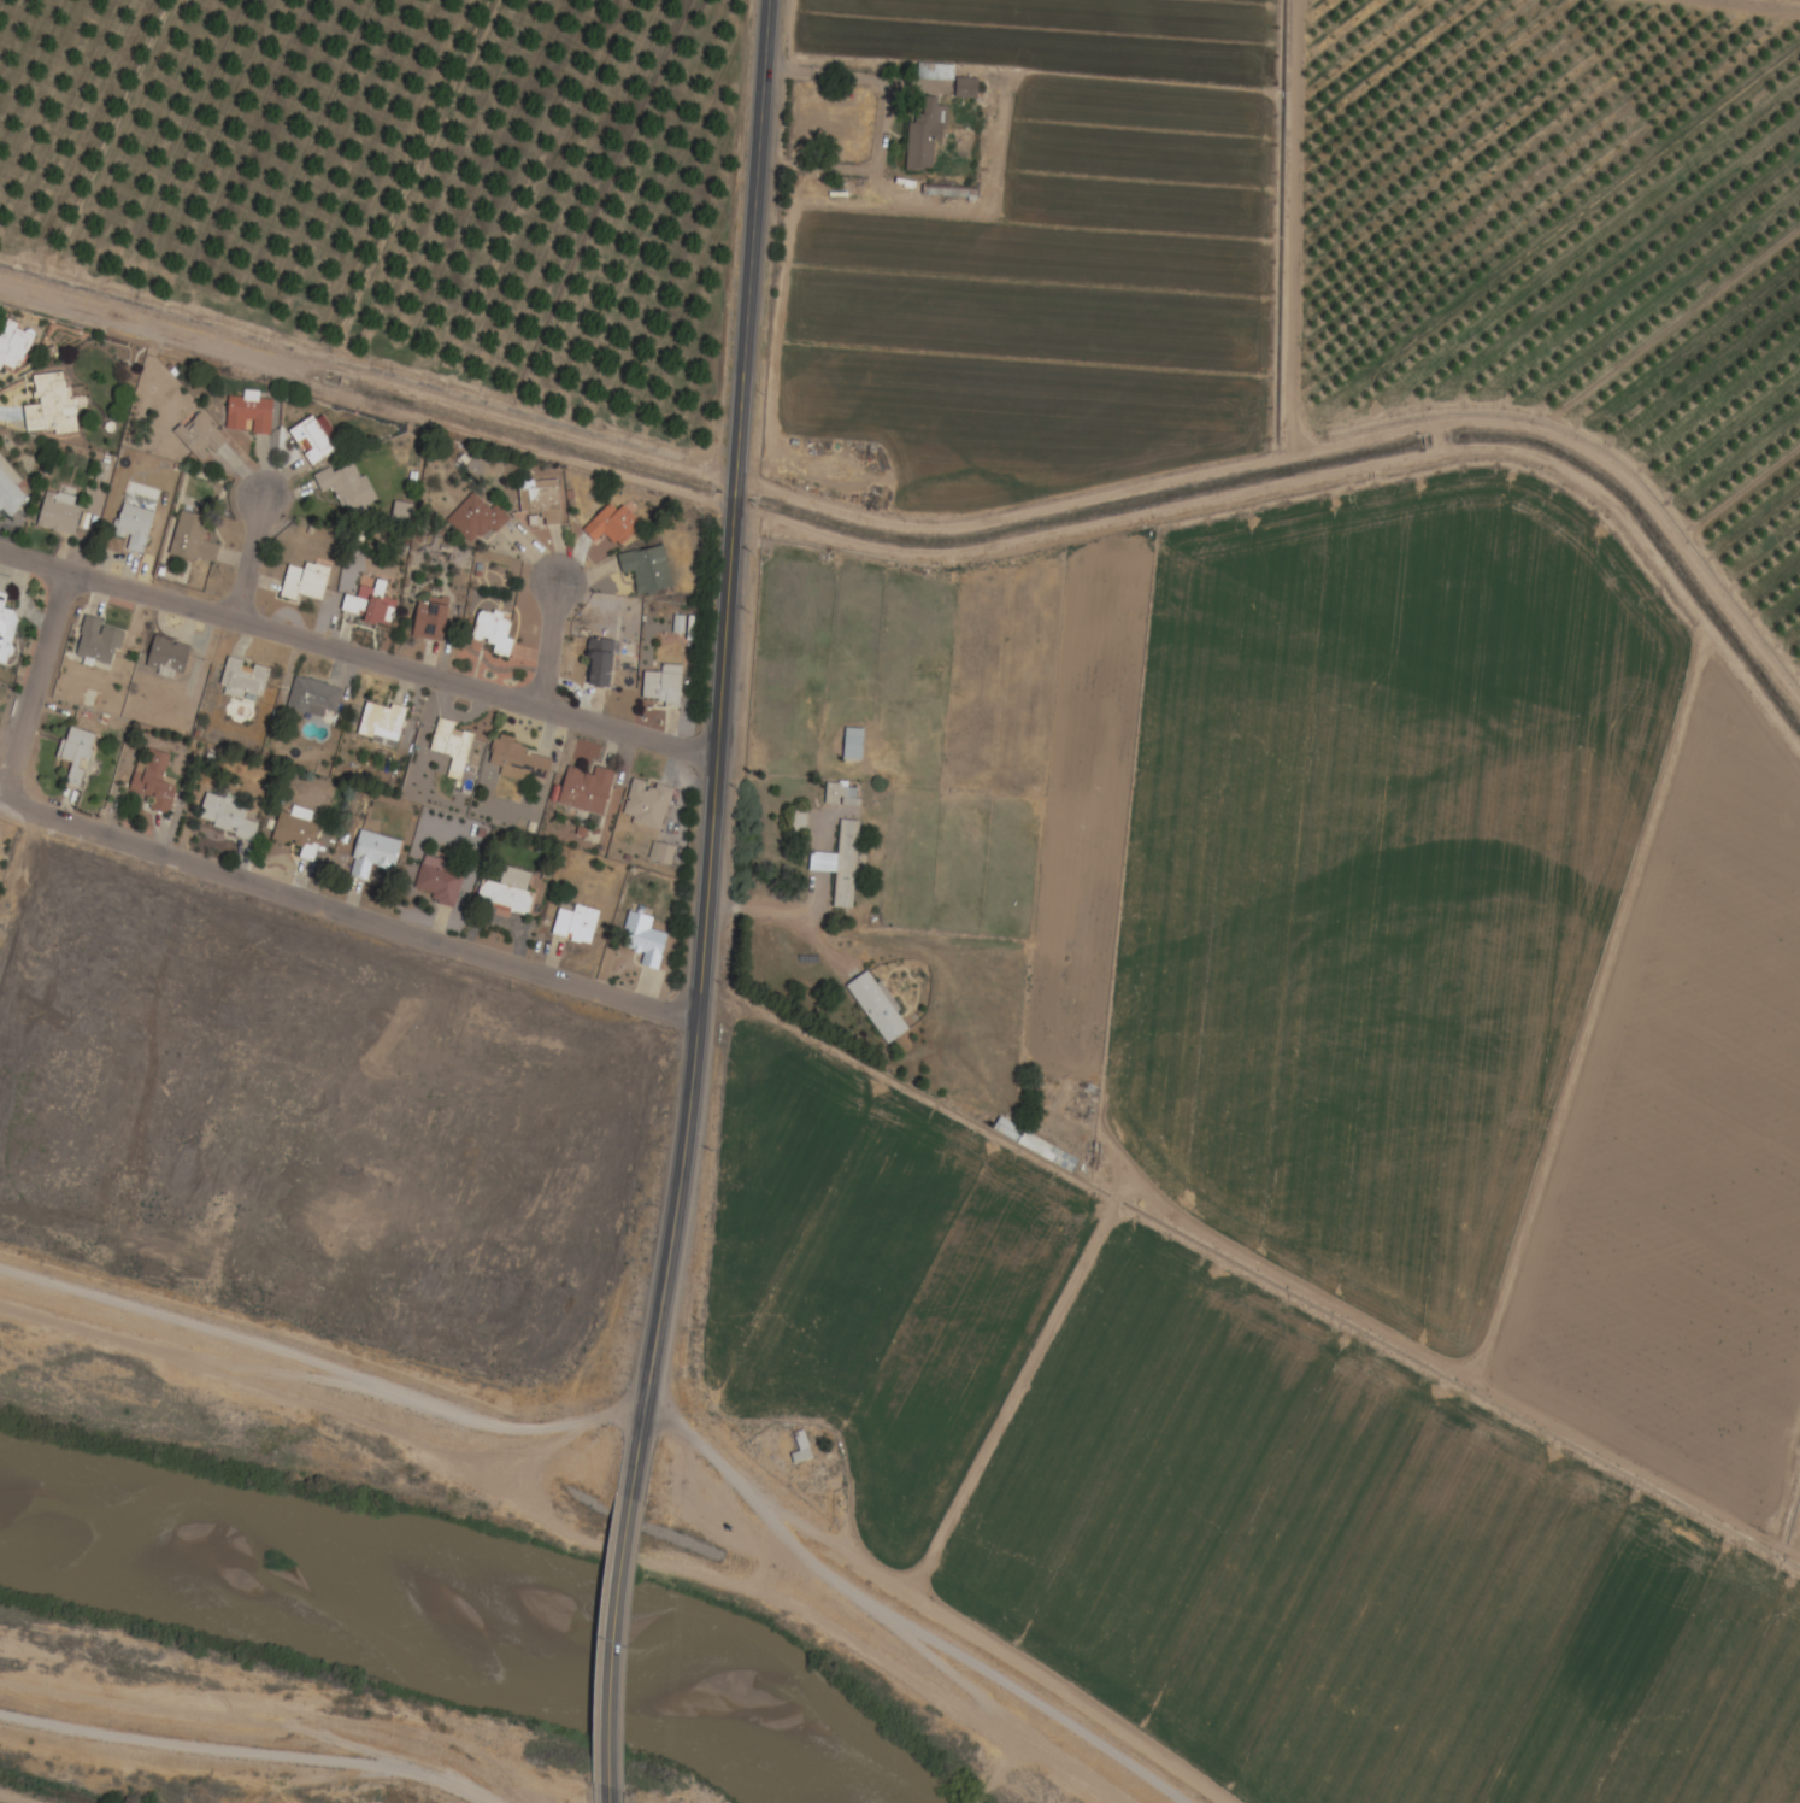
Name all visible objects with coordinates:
building: (935, 72)
building: (965, 88)
building: (922, 137)
building: (12, 346)
building: (49, 405)
building: (248, 415)
building: (199, 437)
building: (311, 442)
building: (345, 484)
building: (10, 492)
building: (540, 500)
building: (58, 512)
building: (477, 521)
building: (611, 525)
building: (133, 527)
building: (190, 540)
road: (249, 558)
building: (646, 570)
building: (302, 585)
building: (370, 610)
building: (429, 621)
building: (6, 628)
building: (493, 633)
building: (96, 644)
road: (549, 645)
road: (357, 653)
building: (166, 654)
building: (599, 663)
road: (1737, 666)
building: (242, 681)
building: (661, 686)
road: (35, 688)
building: (312, 698)
park: (6, 707)
building: (381, 722)
building: (852, 745)
building: (451, 747)
road: (713, 752)
building: (75, 754)
building: (520, 763)
building: (152, 780)
building: (586, 791)
building: (841, 795)
building: (646, 805)
building: (225, 817)
building: (296, 830)
building: (372, 854)
building: (840, 865)
crop: (1372, 874)
building: (436, 881)
building: (506, 893)
road: (346, 911)
building: (575, 924)
building: (642, 940)
building: (877, 1008)
crop: (307, 1117)
building: (1034, 1145)
crop: (1683, 1145)
crop: (871, 1275)
road: (643, 1408)
building: (800, 1450)
crop: (1796, 1533)
crop: (1357, 1574)
river: (445, 1628)
road: (608, 1642)
road: (243, 1756)
road: (605, 1793)
road: (10, 1799)

